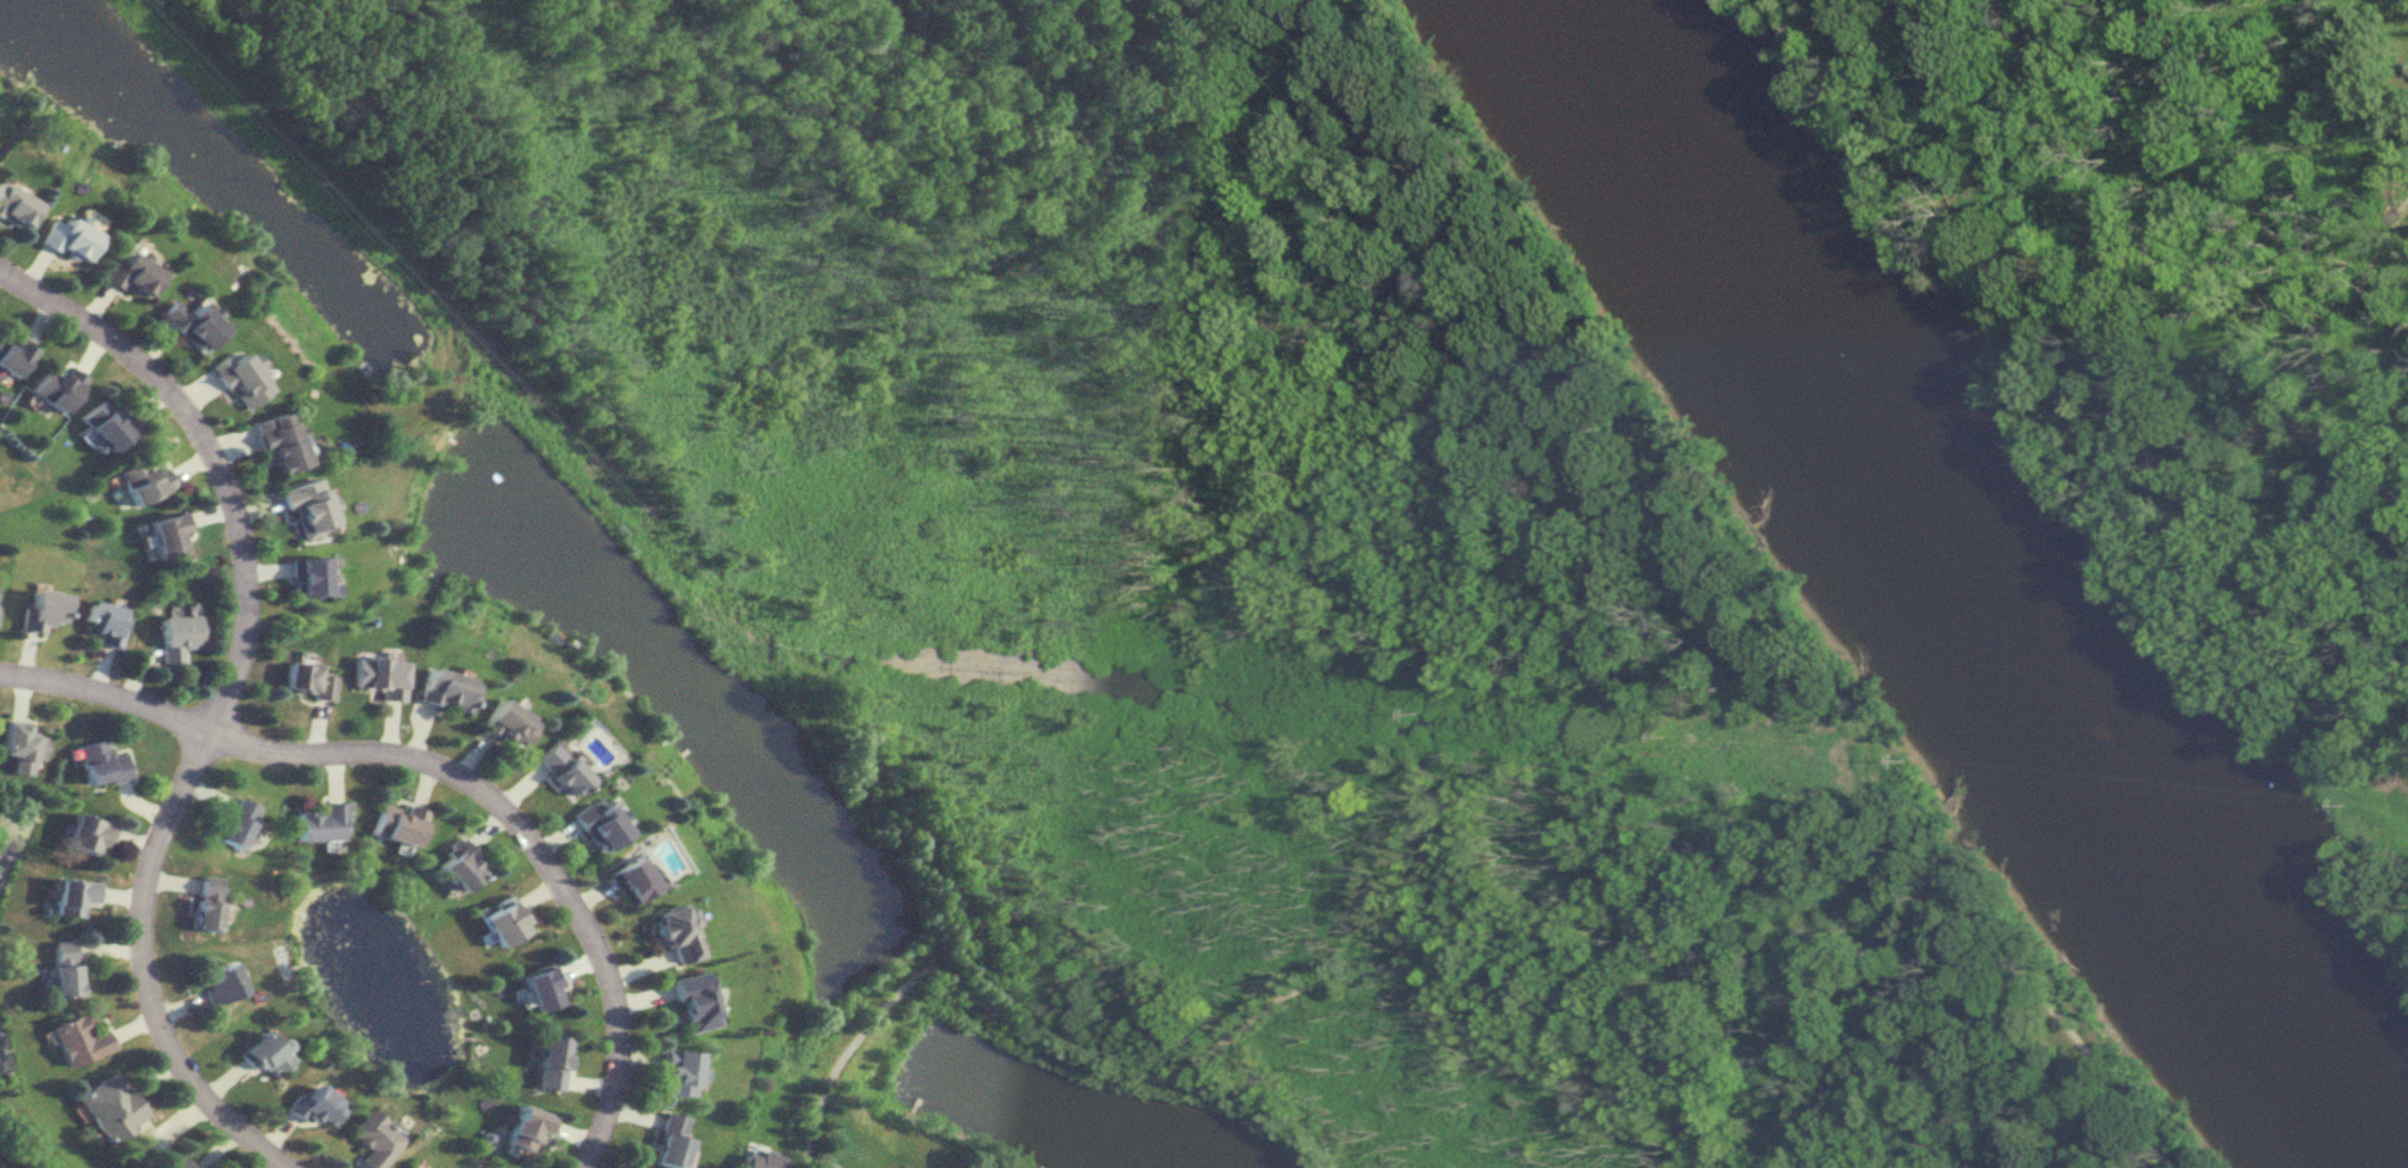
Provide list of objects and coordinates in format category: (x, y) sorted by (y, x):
building: (13, 207)
building: (64, 239)
building: (127, 275)
building: (188, 325)
building: (10, 355)
building: (236, 378)
building: (54, 387)
building: (103, 425)
building: (276, 444)
road: (1661, 471)
building: (139, 480)
building: (305, 506)
building: (167, 536)
park: (1230, 555)
building: (307, 577)
river: (1959, 595)
building: (42, 609)
building: (103, 624)
building: (175, 637)
building: (375, 678)
building: (305, 681)
building: (444, 691)
road: (215, 699)
building: (505, 723)
building: (19, 746)
building: (98, 763)
building: (559, 767)
road: (446, 773)
building: (235, 821)
building: (323, 821)
building: (395, 821)
building: (596, 825)
building: (86, 833)
building: (458, 863)
building: (628, 879)
building: (72, 895)
building: (205, 902)
building: (501, 921)
building: (675, 932)
building: (62, 967)
building: (219, 982)
road: (1481, 986)
building: (540, 987)
building: (692, 1000)
building: (78, 1038)
building: (265, 1053)
building: (548, 1061)
building: (676, 1070)
building: (319, 1104)
building: (110, 1106)
building: (524, 1127)
building: (374, 1137)
building: (668, 1138)
building: (759, 1158)
building: (175, 1162)
building: (414, 1166)

